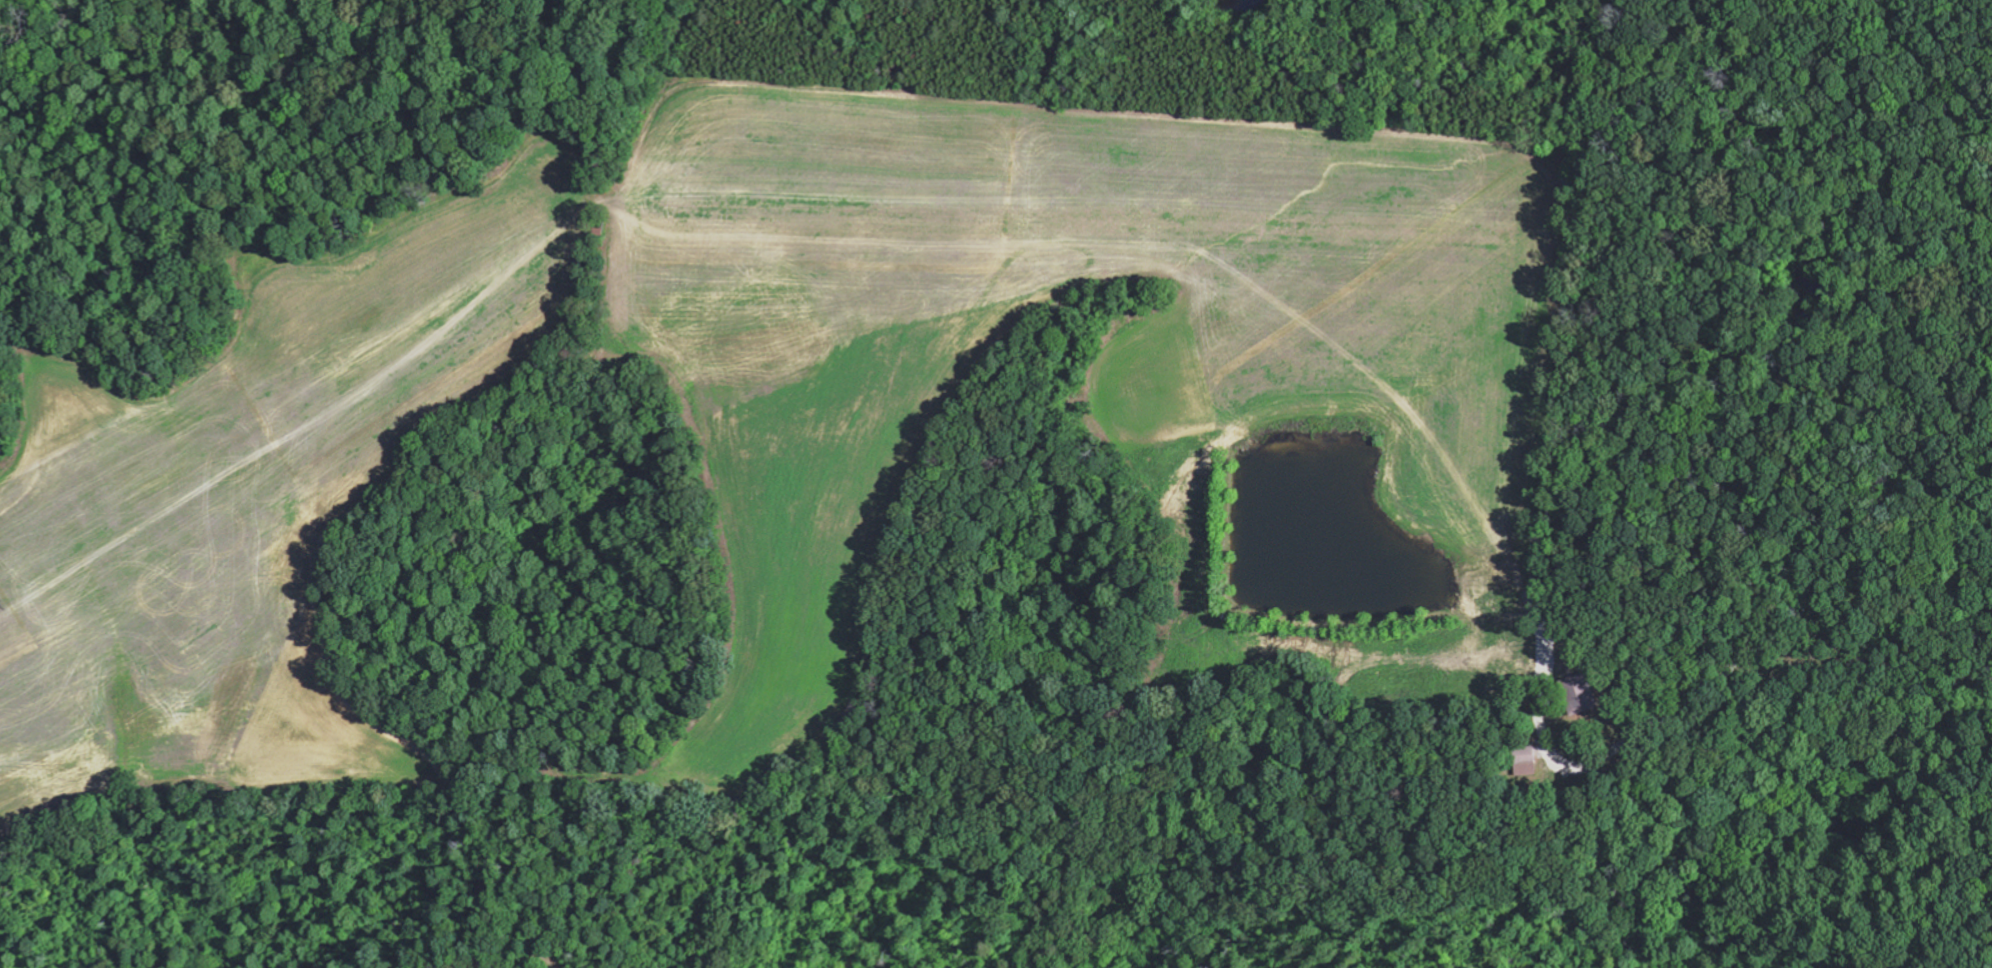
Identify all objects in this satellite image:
road: (376, 465)
road: (1640, 488)

